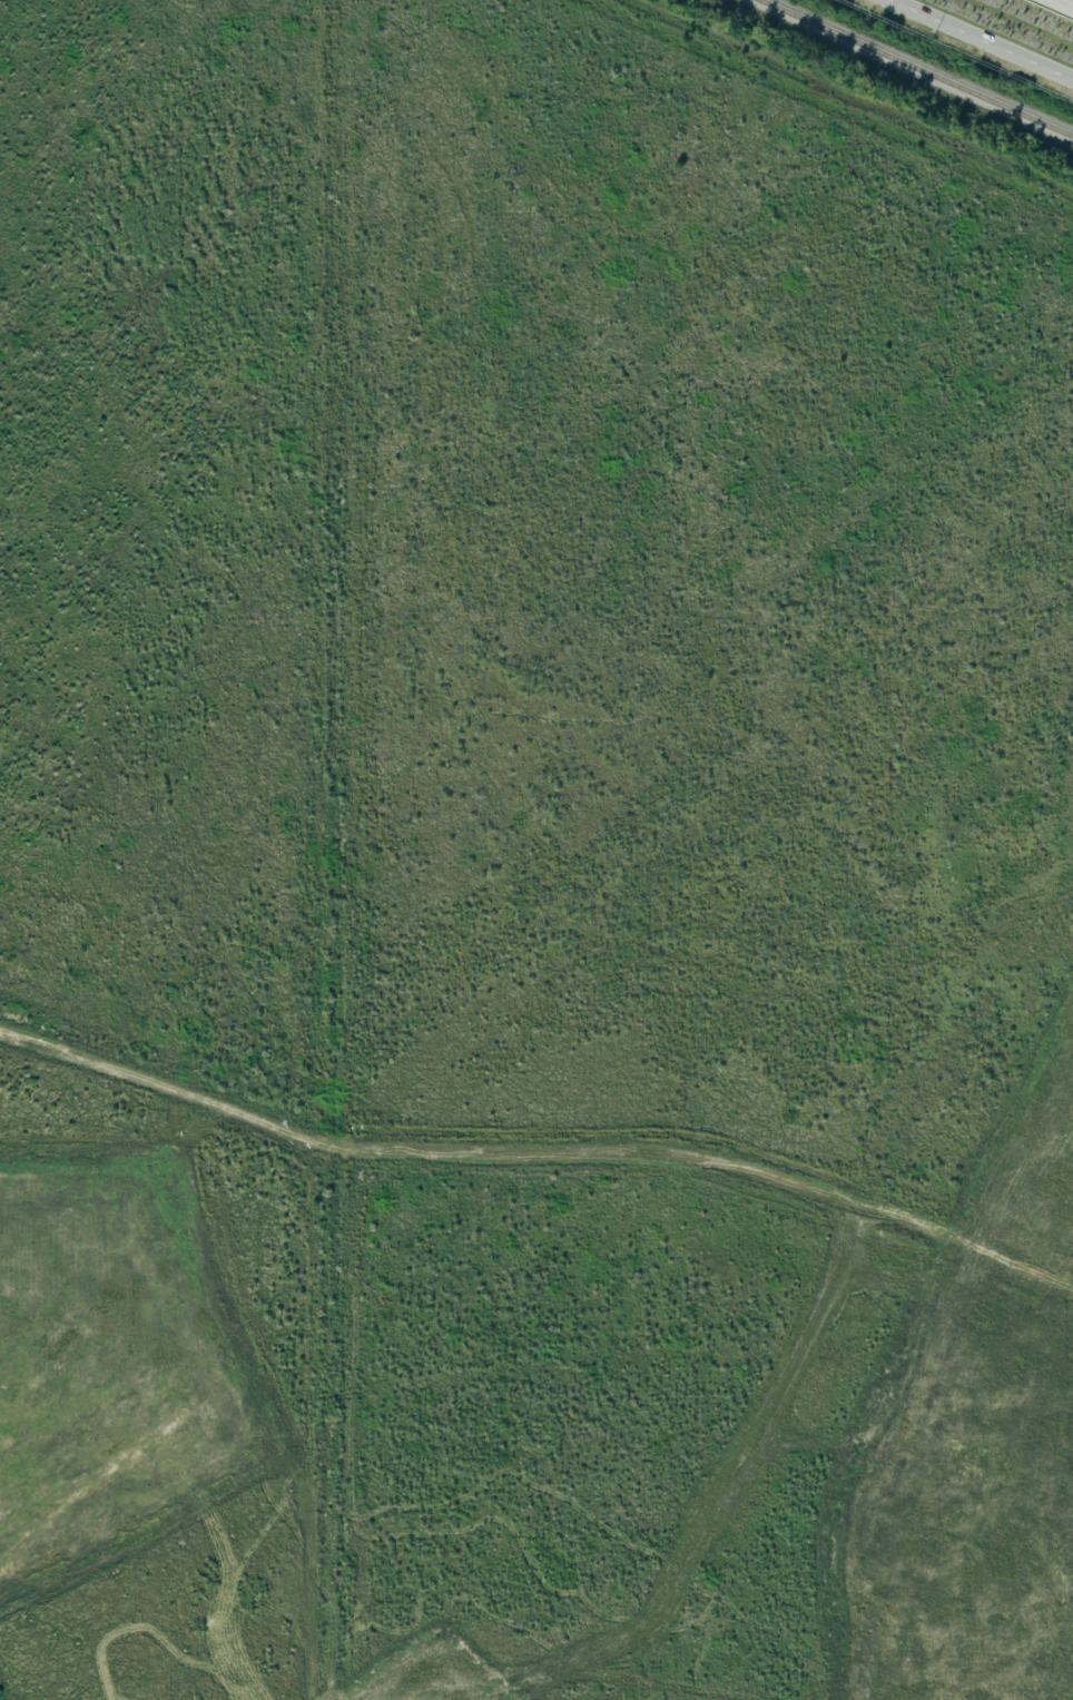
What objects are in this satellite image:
road: (994, 33)
railway: (914, 69)
road: (538, 1153)
railway: (536, 1436)

